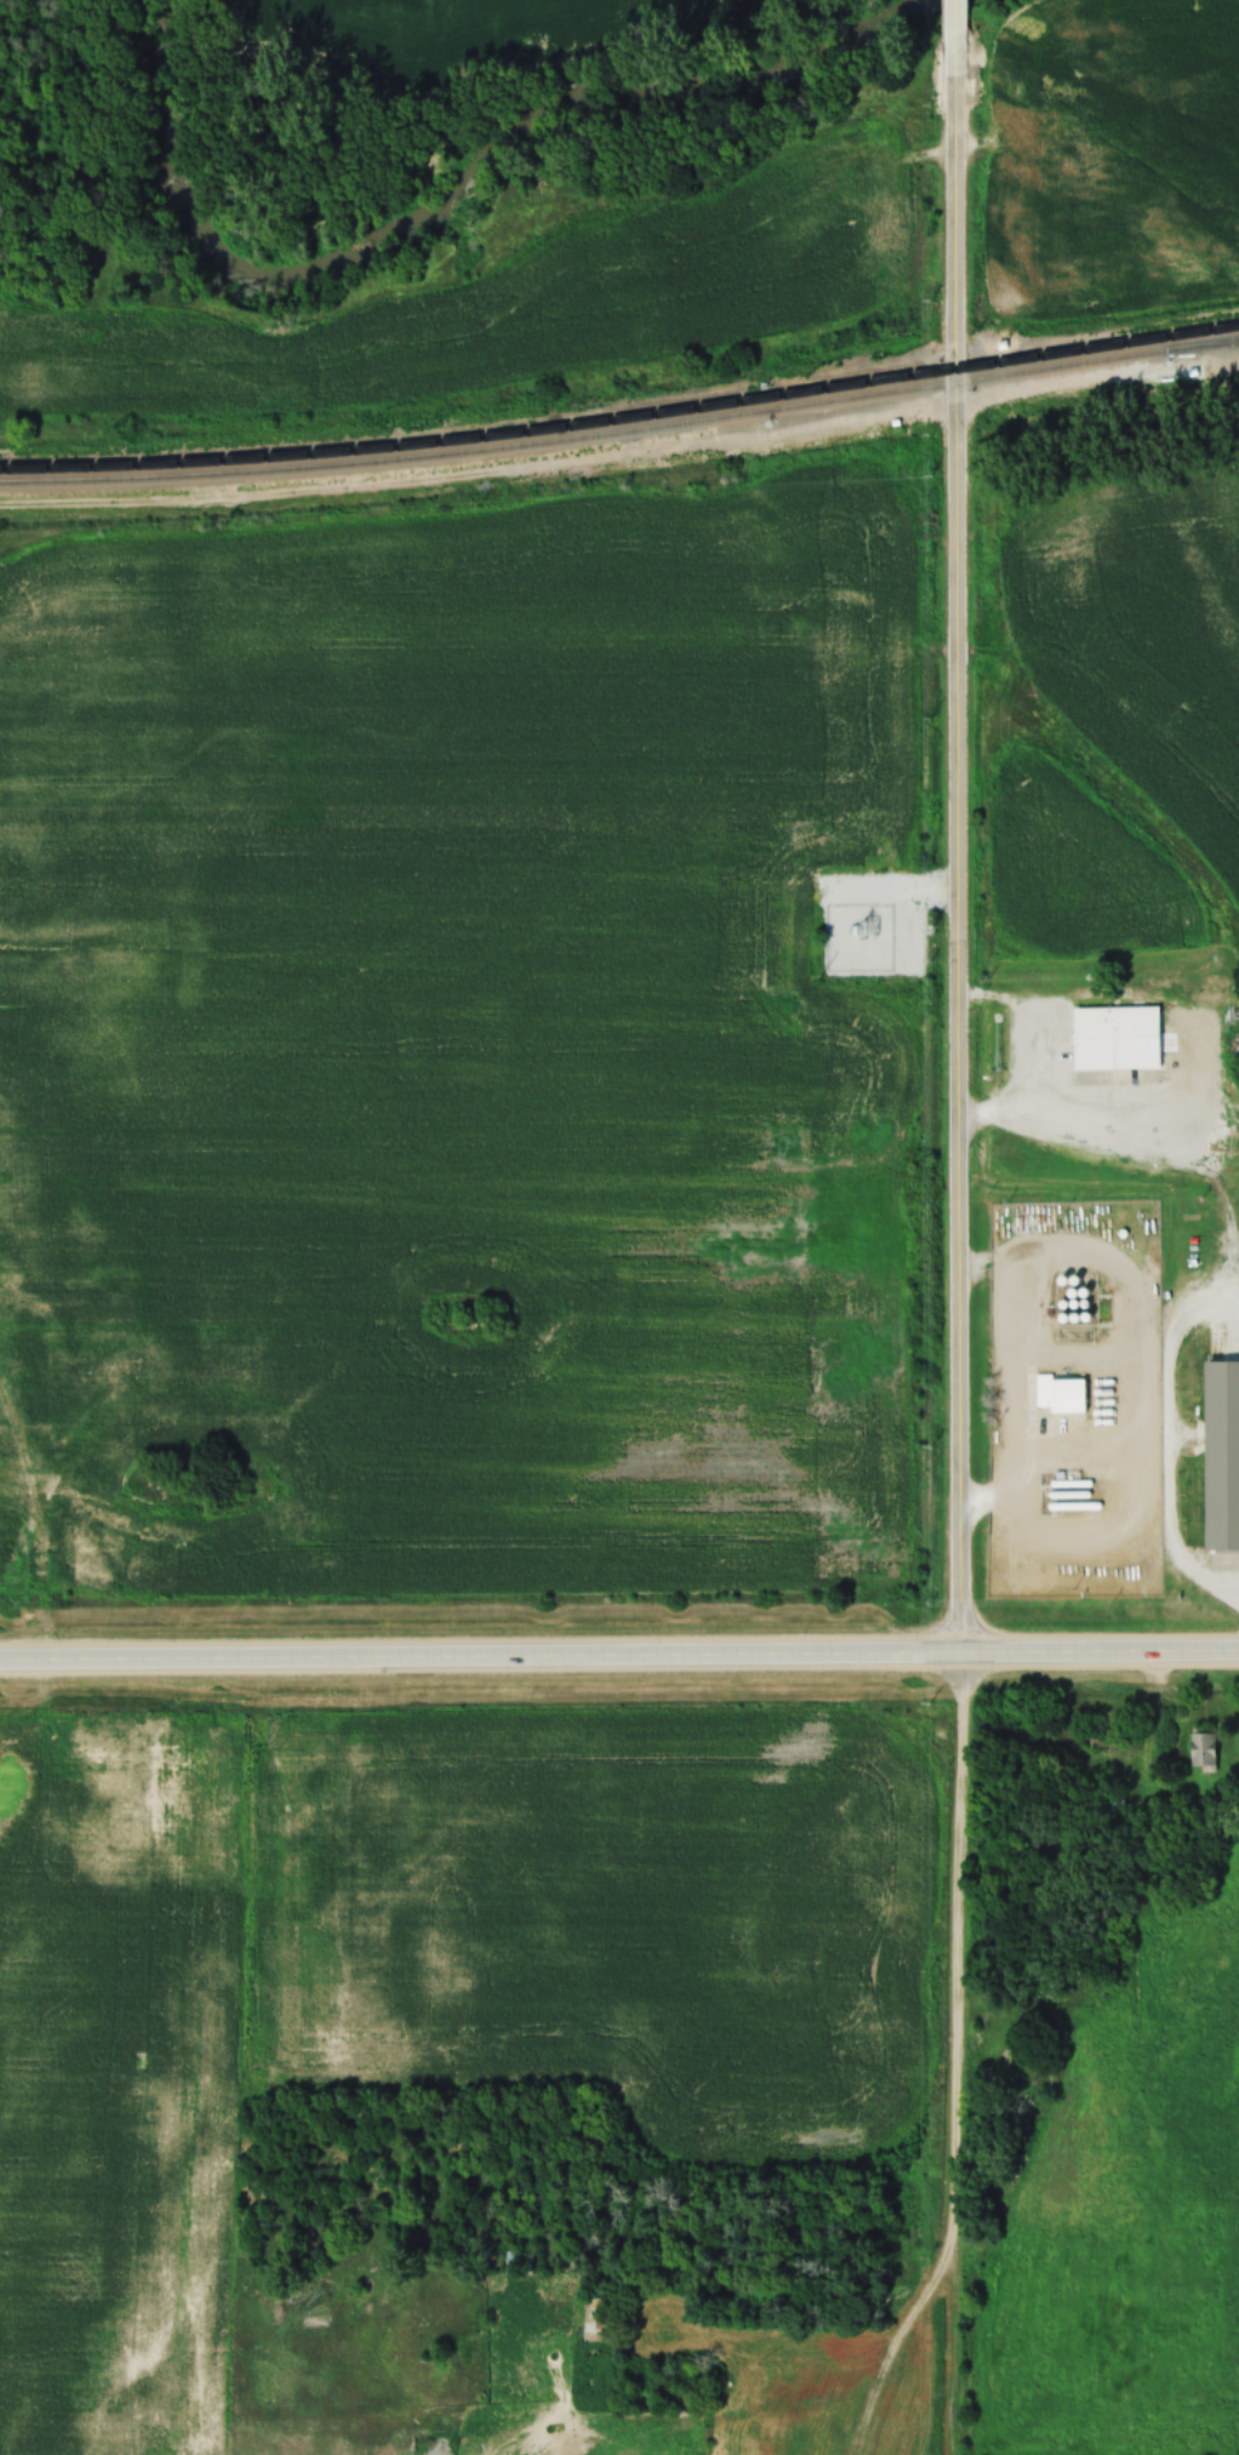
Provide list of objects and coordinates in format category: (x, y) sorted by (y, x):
road: (953, 216)
railway: (622, 418)
railway: (621, 430)
building: (1113, 1037)
road: (955, 1041)
road: (1020, 1389)
building: (1057, 1394)
building: (1220, 1452)
road: (618, 1650)
building: (1200, 1751)
building: (1112, 1802)
road: (958, 2053)
building: (515, 2262)
building: (596, 2319)

